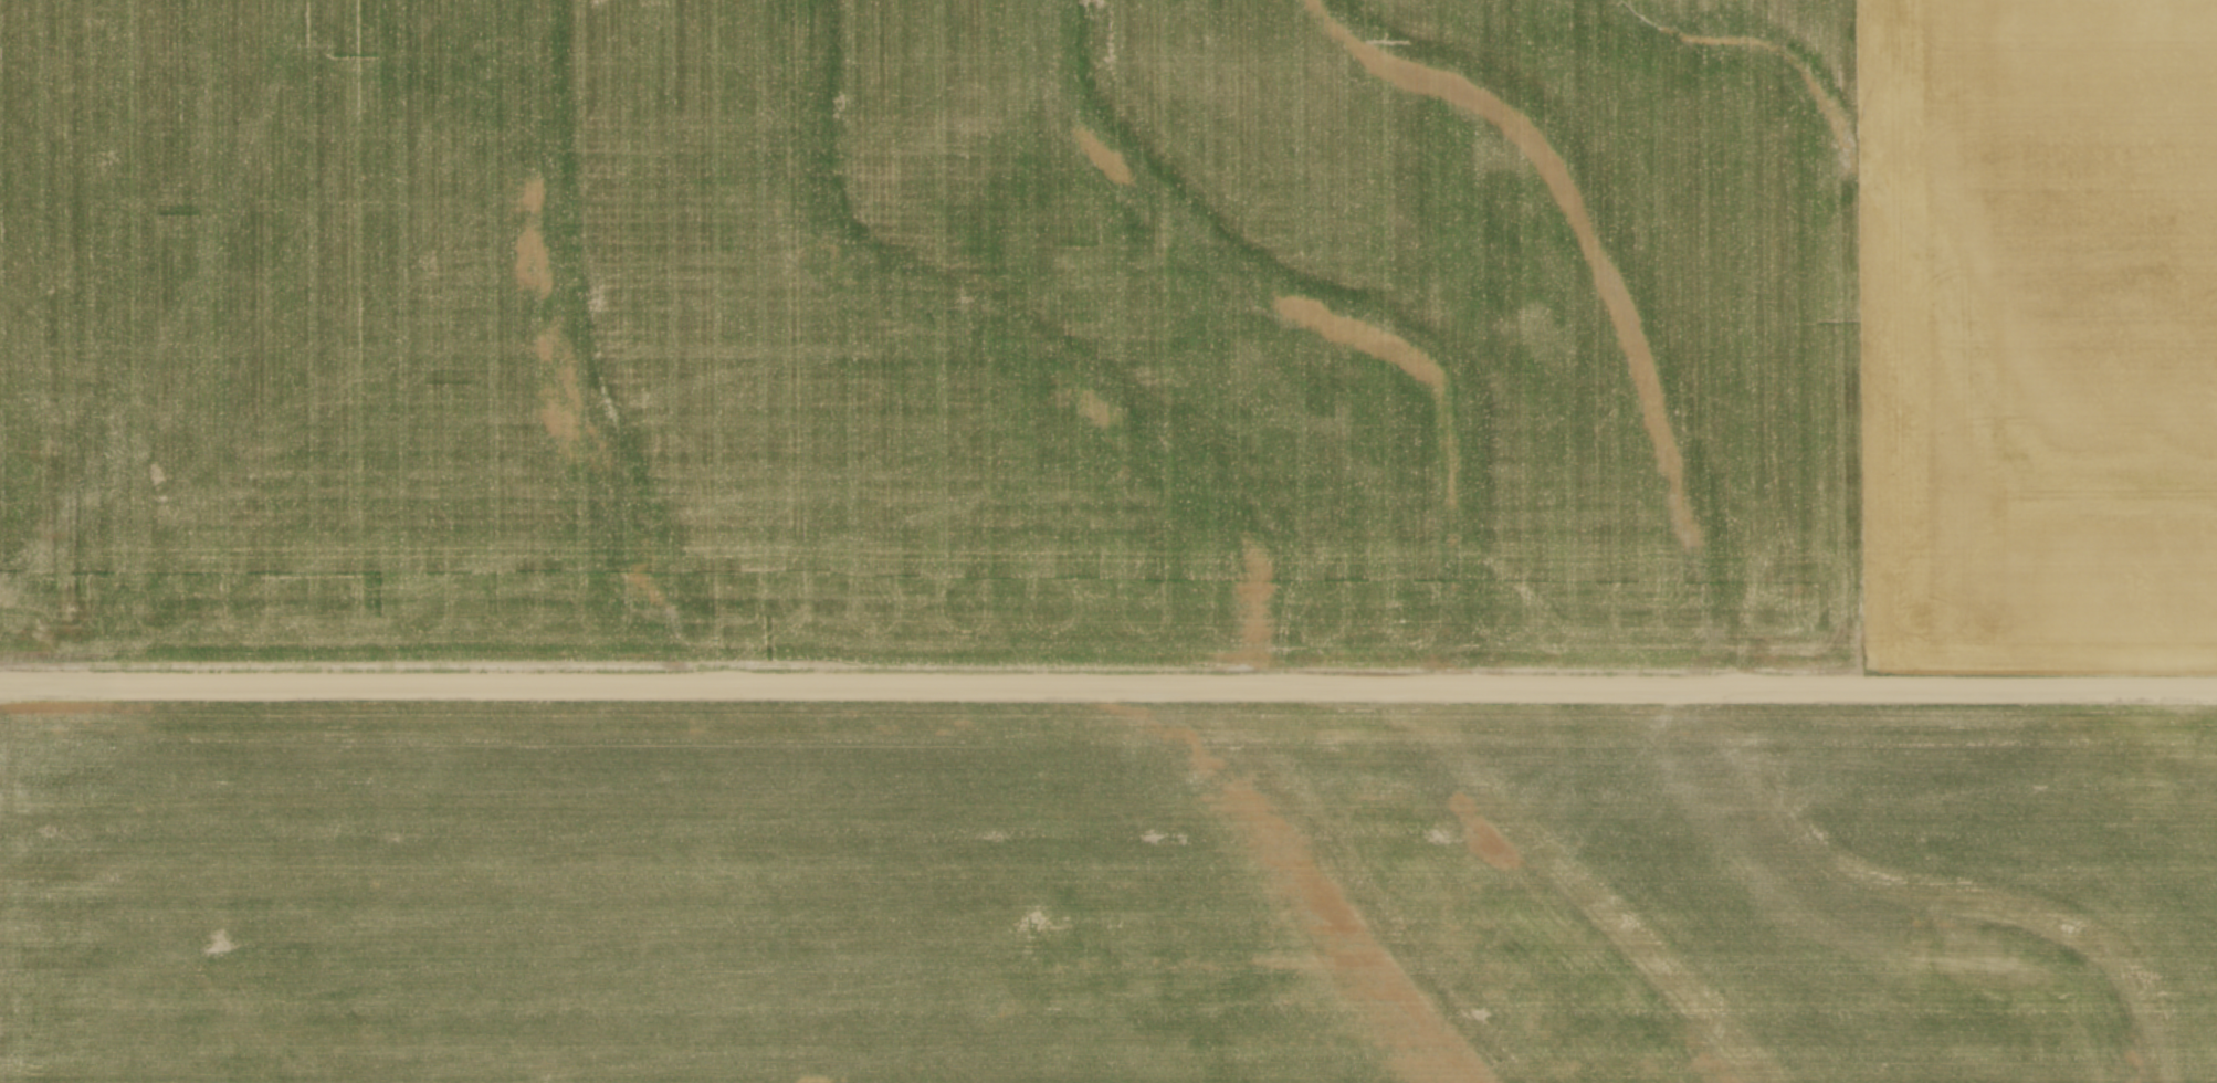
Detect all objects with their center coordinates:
crop: (1111, 334)
road: (1107, 685)
crop: (1107, 893)

